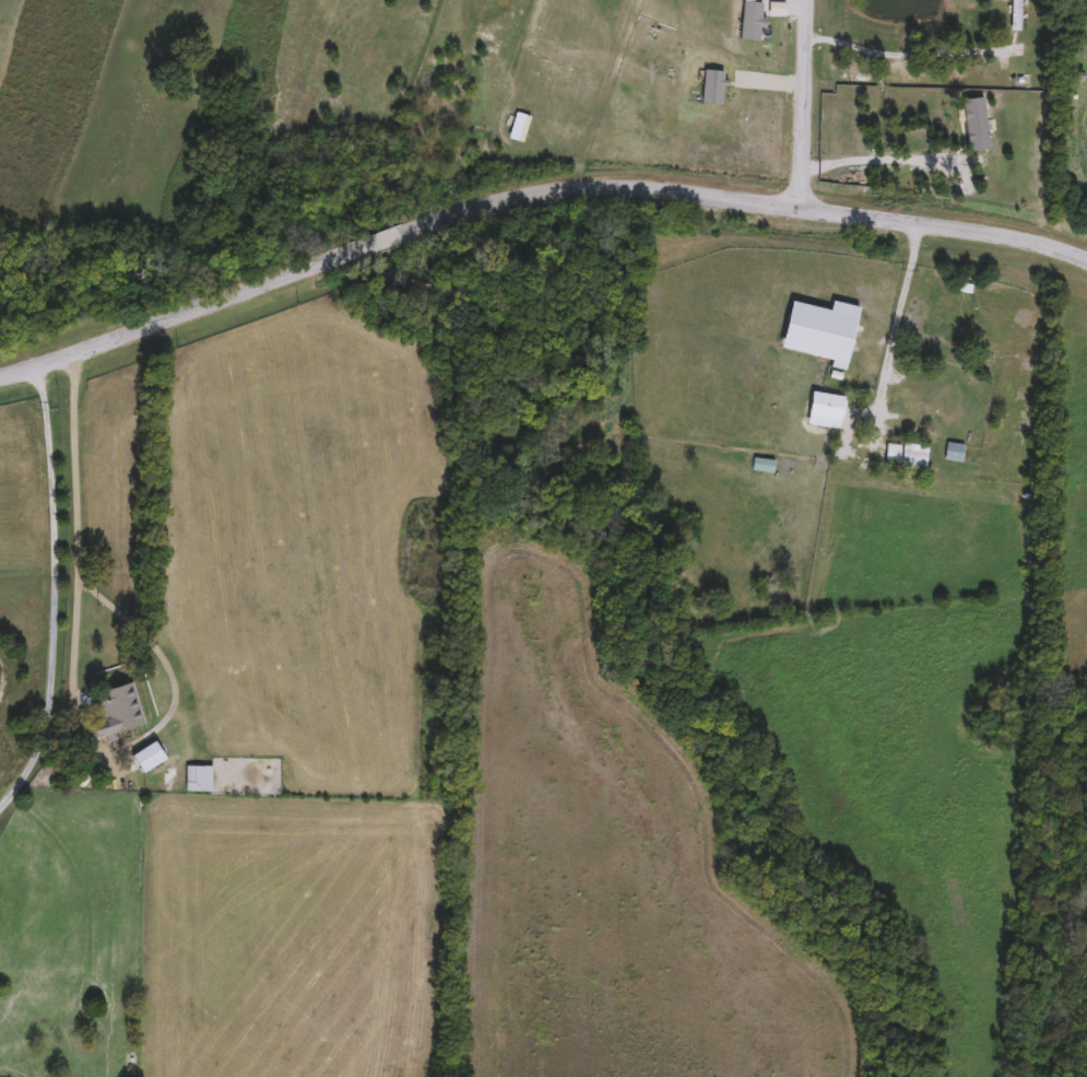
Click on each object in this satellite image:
road: (902, 56)
building: (712, 89)
road: (801, 105)
road: (876, 161)
road: (531, 192)
road: (899, 324)
building: (824, 335)
building: (823, 399)
building: (911, 408)
building: (954, 448)
building: (902, 457)
road: (51, 590)
building: (775, 596)
road: (70, 678)
building: (117, 712)
building: (146, 758)
building: (197, 780)

